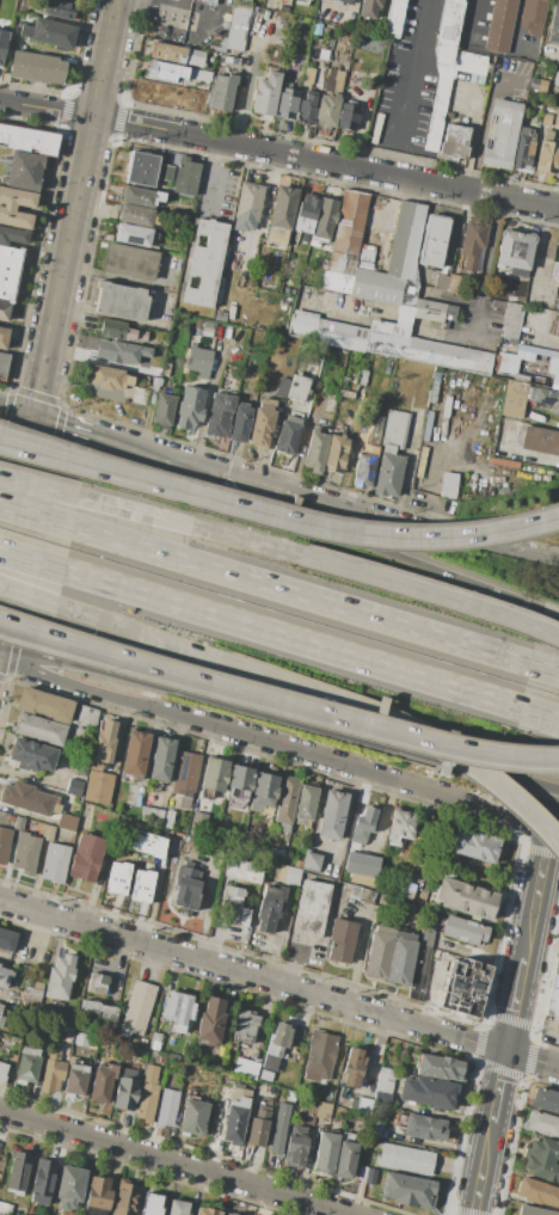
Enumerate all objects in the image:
building: (208, 1)
building: (342, 1)
road: (149, 8)
road: (179, 8)
building: (368, 8)
building: (59, 10)
road: (203, 13)
building: (392, 17)
building: (533, 17)
building: (303, 24)
building: (238, 25)
building: (500, 25)
building: (554, 25)
building: (317, 29)
building: (49, 32)
building: (2, 42)
building: (377, 45)
road: (549, 47)
building: (324, 54)
building: (178, 55)
building: (226, 60)
building: (448, 66)
building: (37, 67)
building: (166, 72)
road: (411, 73)
building: (201, 74)
building: (308, 78)
building: (555, 78)
building: (333, 80)
building: (537, 84)
road: (246, 87)
building: (222, 91)
building: (266, 93)
building: (287, 102)
building: (307, 108)
building: (327, 110)
building: (449, 115)
building: (349, 116)
road: (484, 117)
building: (557, 117)
building: (546, 119)
building: (377, 128)
building: (502, 133)
building: (27, 139)
building: (454, 142)
building: (524, 151)
road: (279, 152)
building: (547, 154)
building: (142, 168)
building: (23, 170)
building: (166, 173)
building: (186, 176)
road: (211, 176)
building: (141, 196)
building: (247, 207)
building: (7, 209)
road: (262, 209)
building: (282, 210)
building: (306, 213)
building: (135, 215)
building: (324, 221)
building: (348, 233)
building: (106, 234)
building: (13, 235)
building: (131, 235)
building: (405, 238)
building: (434, 241)
building: (474, 243)
road: (490, 246)
building: (515, 250)
road: (537, 252)
building: (367, 256)
building: (129, 260)
building: (204, 263)
building: (554, 270)
building: (8, 271)
road: (112, 275)
building: (441, 282)
building: (453, 282)
building: (469, 283)
building: (376, 286)
road: (55, 290)
building: (557, 296)
building: (119, 300)
building: (4, 311)
building: (434, 311)
road: (102, 314)
building: (220, 315)
road: (477, 320)
building: (511, 320)
building: (305, 321)
building: (557, 327)
building: (121, 330)
building: (340, 336)
building: (4, 337)
road: (534, 337)
building: (422, 346)
building: (122, 351)
building: (537, 356)
building: (197, 361)
building: (2, 364)
building: (165, 369)
building: (510, 370)
building: (517, 372)
building: (524, 374)
building: (537, 375)
building: (363, 378)
building: (107, 379)
building: (549, 380)
building: (155, 383)
building: (299, 388)
building: (346, 393)
building: (514, 398)
building: (545, 398)
building: (330, 404)
building: (164, 407)
building: (190, 407)
road: (14, 412)
building: (220, 415)
traffic signals: (31, 417)
building: (240, 423)
building: (262, 423)
building: (336, 424)
road: (66, 428)
building: (395, 429)
building: (376, 431)
building: (426, 432)
building: (288, 435)
road: (302, 438)
building: (536, 440)
building: (315, 452)
building: (336, 453)
road: (49, 455)
building: (422, 461)
building: (364, 468)
building: (388, 473)
road: (204, 477)
road: (432, 480)
building: (447, 484)
road: (37, 487)
road: (330, 499)
road: (36, 515)
road: (204, 530)
road: (325, 530)
road: (30, 560)
road: (426, 560)
road: (302, 594)
road: (447, 600)
road: (553, 608)
road: (290, 638)
road: (80, 639)
road: (80, 650)
road: (546, 667)
road: (76, 685)
road: (150, 685)
road: (296, 687)
building: (43, 704)
road: (540, 713)
building: (87, 714)
road: (540, 716)
road: (358, 723)
building: (38, 729)
building: (135, 753)
road: (430, 754)
building: (31, 755)
building: (99, 759)
building: (161, 759)
building: (81, 765)
road: (352, 766)
building: (186, 774)
building: (215, 774)
building: (239, 786)
building: (74, 787)
building: (263, 792)
building: (27, 799)
building: (287, 803)
road: (553, 803)
building: (305, 806)
building: (150, 814)
building: (331, 815)
building: (11, 818)
building: (167, 820)
building: (67, 823)
building: (365, 826)
building: (401, 826)
building: (48, 833)
road: (553, 833)
building: (145, 843)
building: (4, 845)
building: (474, 845)
building: (24, 853)
building: (275, 854)
building: (86, 857)
building: (311, 861)
building: (54, 863)
building: (361, 867)
building: (242, 870)
building: (288, 876)
building: (116, 877)
building: (140, 885)
building: (186, 886)
building: (405, 890)
building: (362, 894)
building: (466, 898)
building: (233, 908)
building: (311, 908)
building: (269, 909)
building: (463, 929)
road: (27, 934)
building: (426, 934)
building: (7, 939)
building: (340, 940)
road: (526, 940)
park: (558, 945)
building: (377, 955)
building: (400, 959)
building: (26, 968)
building: (418, 969)
road: (251, 976)
building: (5, 977)
building: (60, 977)
building: (97, 983)
building: (37, 984)
building: (463, 986)
building: (552, 994)
building: (32, 999)
building: (0, 1007)
building: (137, 1007)
building: (0, 1010)
building: (178, 1011)
building: (98, 1012)
building: (1, 1020)
building: (209, 1021)
building: (245, 1026)
road: (552, 1029)
building: (81, 1041)
building: (154, 1041)
building: (228, 1044)
building: (276, 1045)
traffic signals: (504, 1051)
building: (320, 1055)
building: (173, 1056)
building: (162, 1060)
road: (532, 1060)
road: (557, 1062)
building: (27, 1063)
building: (354, 1067)
building: (440, 1067)
building: (245, 1068)
building: (53, 1069)
building: (2, 1072)
building: (265, 1075)
building: (386, 1079)
building: (75, 1081)
building: (102, 1082)
building: (125, 1087)
building: (148, 1093)
building: (428, 1093)
building: (385, 1099)
building: (547, 1102)
building: (361, 1104)
building: (167, 1107)
building: (322, 1110)
building: (193, 1117)
building: (235, 1121)
building: (259, 1124)
building: (543, 1124)
building: (424, 1127)
building: (377, 1128)
building: (278, 1129)
road: (487, 1133)
building: (348, 1136)
building: (295, 1147)
building: (325, 1153)
building: (406, 1159)
building: (345, 1160)
building: (541, 1160)
road: (174, 1161)
building: (18, 1171)
building: (367, 1176)
building: (42, 1179)
building: (69, 1188)
building: (408, 1190)
building: (99, 1192)
building: (536, 1192)
building: (125, 1198)
building: (153, 1204)
building: (177, 1208)
building: (6, 1209)
building: (207, 1211)
building: (532, 1211)
building: (229, 1214)

